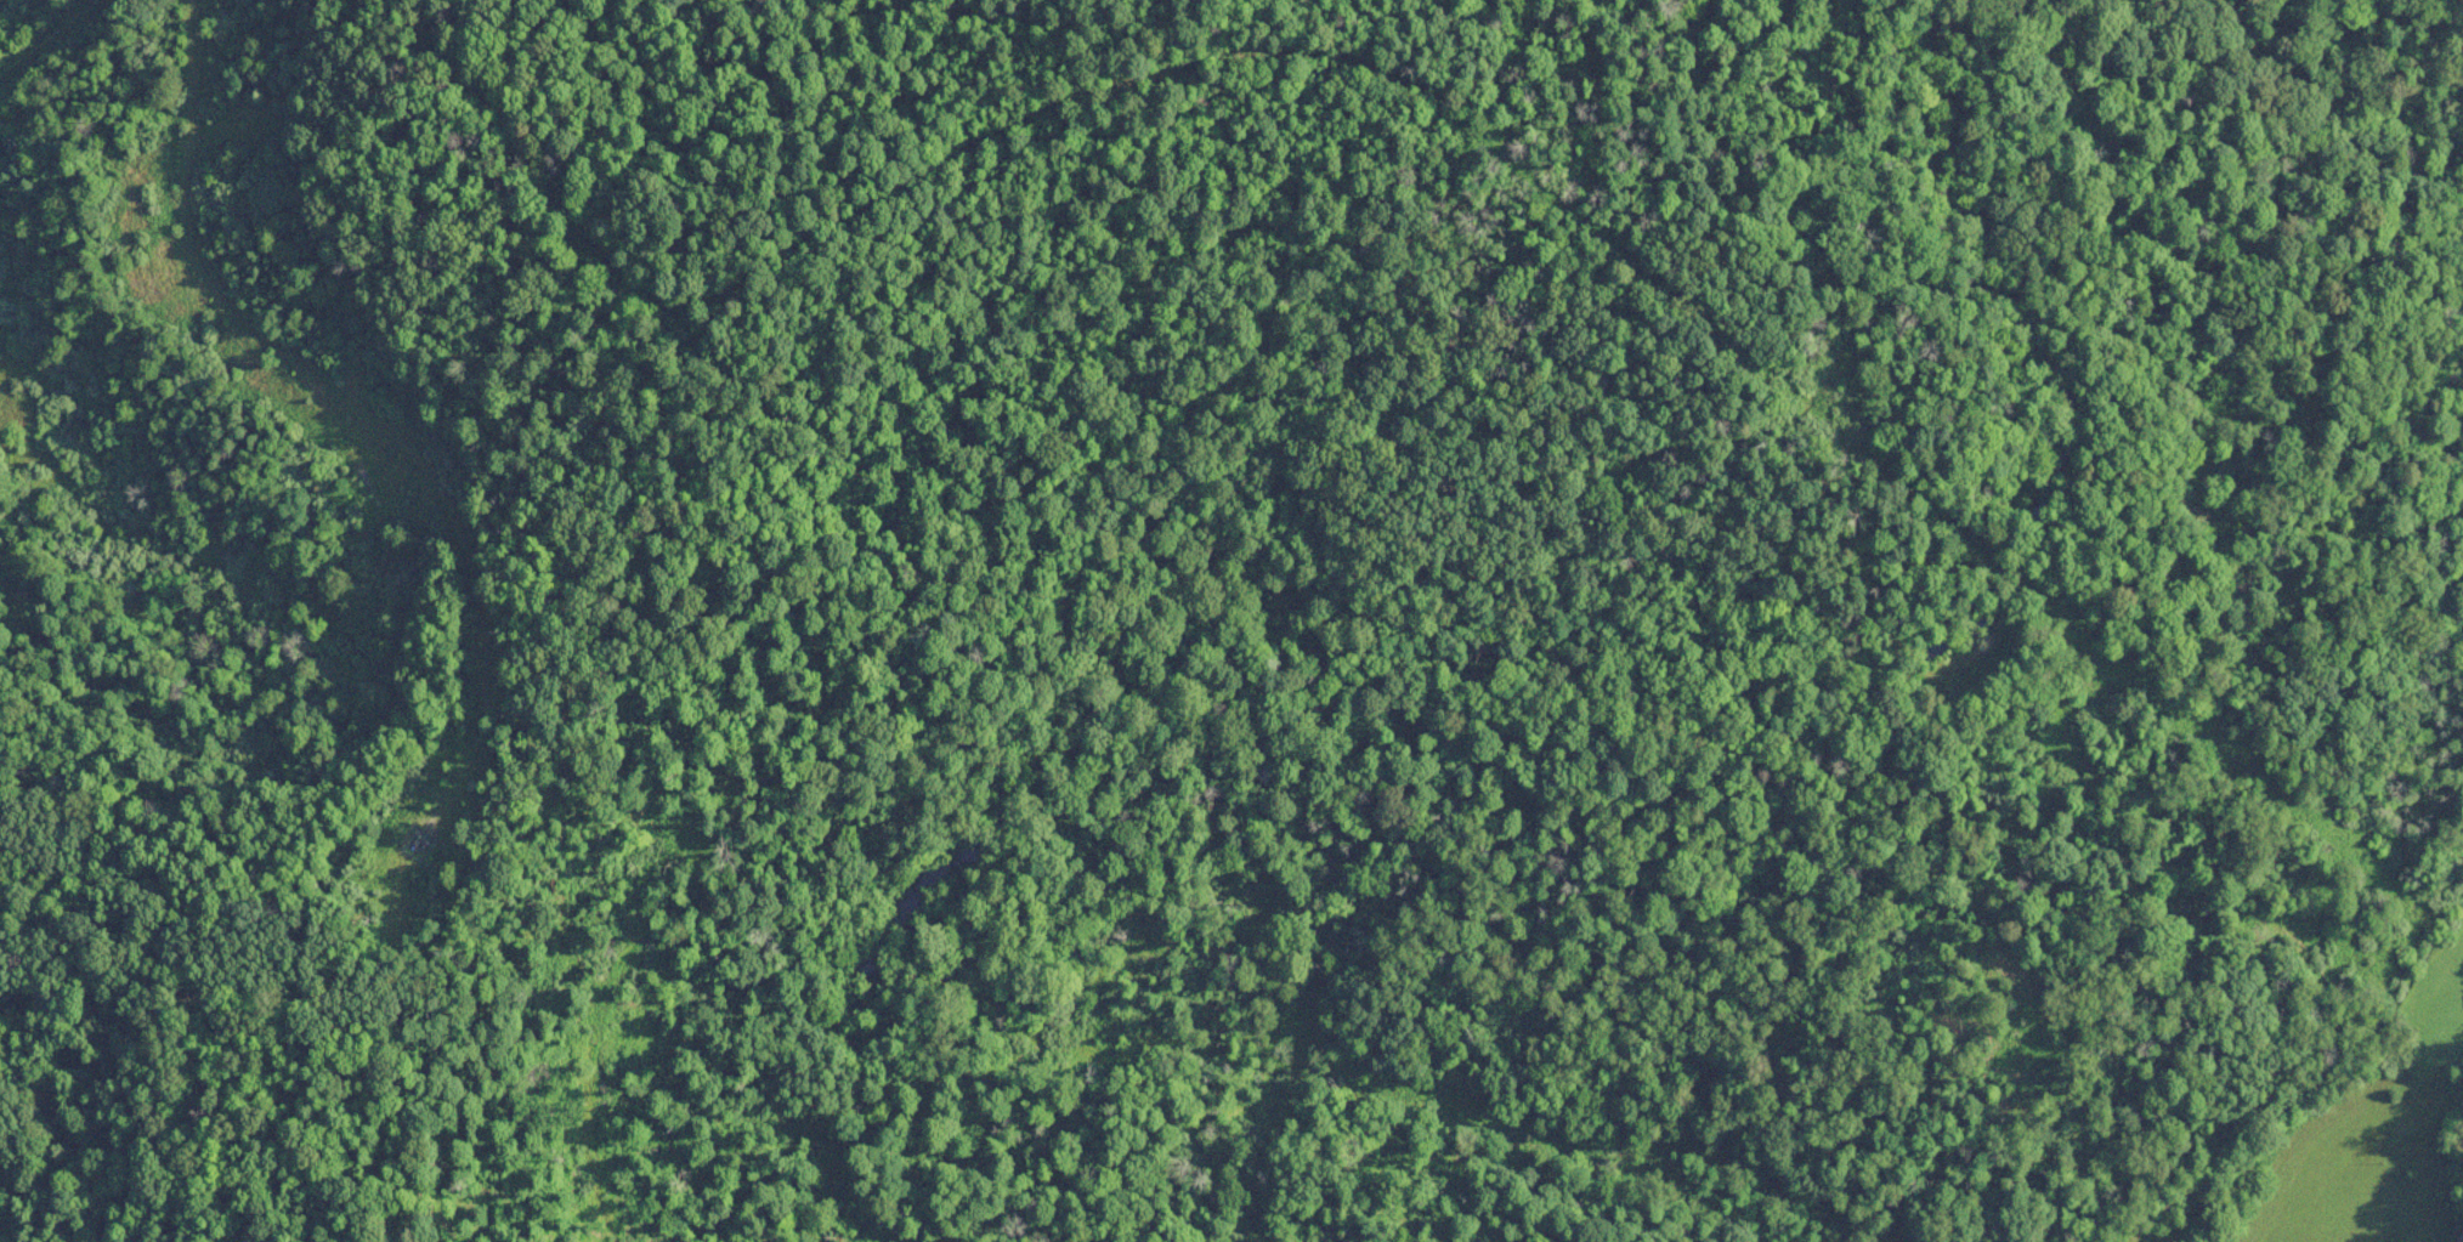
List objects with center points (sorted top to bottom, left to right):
road: (2440, 1208)

